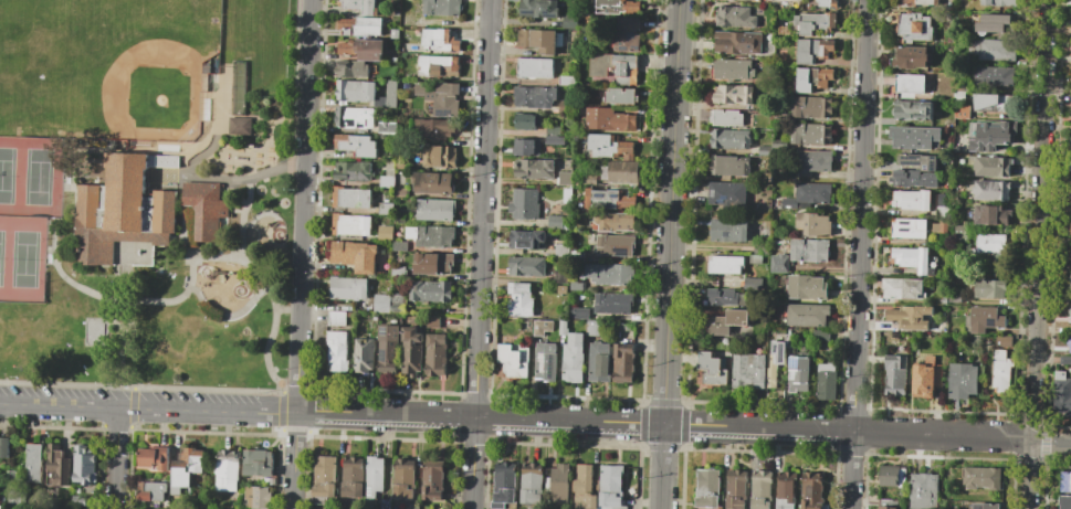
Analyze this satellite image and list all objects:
building: (917, 2)
building: (999, 2)
building: (829, 3)
building: (360, 6)
building: (619, 6)
building: (442, 8)
building: (539, 9)
building: (396, 13)
building: (736, 17)
building: (408, 20)
building: (763, 20)
building: (570, 21)
building: (815, 22)
building: (995, 22)
building: (914, 25)
building: (360, 26)
building: (417, 32)
building: (393, 33)
building: (627, 34)
building: (540, 39)
building: (439, 41)
building: (738, 43)
building: (361, 50)
building: (815, 50)
building: (996, 50)
building: (531, 52)
building: (911, 56)
building: (393, 59)
park: (104, 67)
building: (438, 67)
building: (536, 67)
building: (616, 67)
building: (734, 68)
building: (350, 70)
building: (994, 76)
building: (815, 78)
building: (566, 79)
road: (306, 82)
building: (1070, 82)
building: (910, 83)
building: (238, 87)
building: (364, 93)
building: (735, 94)
building: (439, 96)
building: (621, 96)
building: (535, 97)
building: (993, 103)
building: (564, 106)
building: (812, 107)
building: (913, 110)
building: (960, 110)
road: (249, 116)
building: (727, 117)
building: (781, 117)
building: (1069, 117)
building: (354, 118)
building: (610, 119)
building: (527, 121)
building: (238, 126)
building: (387, 128)
building: (438, 129)
building: (555, 130)
building: (812, 134)
building: (991, 135)
road: (265, 136)
building: (913, 136)
building: (405, 138)
building: (731, 138)
building: (555, 139)
building: (1070, 141)
building: (780, 144)
building: (357, 145)
building: (527, 147)
building: (610, 147)
building: (766, 150)
road: (272, 153)
building: (440, 156)
building: (918, 160)
building: (812, 161)
building: (402, 165)
building: (991, 165)
building: (729, 166)
building: (1068, 166)
building: (389, 167)
building: (533, 169)
building: (351, 171)
building: (623, 171)
road: (230, 178)
building: (565, 178)
building: (592, 178)
building: (913, 179)
building: (433, 182)
building: (578, 182)
building: (989, 189)
park: (145, 190)
building: (400, 192)
building: (727, 193)
building: (809, 194)
building: (568, 195)
building: (1070, 197)
building: (350, 198)
building: (609, 199)
building: (911, 200)
building: (525, 204)
building: (122, 208)
building: (202, 209)
building: (385, 209)
building: (435, 210)
building: (1067, 210)
building: (941, 211)
park: (25, 212)
building: (989, 214)
building: (555, 219)
building: (612, 222)
building: (813, 223)
building: (350, 224)
building: (938, 227)
building: (909, 229)
building: (728, 230)
building: (385, 232)
building: (431, 237)
building: (527, 238)
building: (990, 242)
building: (615, 245)
building: (399, 246)
building: (762, 248)
building: (561, 250)
building: (809, 251)
building: (1070, 253)
building: (354, 254)
road: (483, 254)
road: (670, 254)
road: (857, 254)
road: (1039, 254)
building: (755, 258)
building: (911, 259)
building: (432, 264)
building: (724, 264)
building: (527, 266)
building: (778, 267)
building: (398, 272)
building: (610, 273)
building: (559, 275)
road: (120, 283)
building: (1070, 283)
building: (576, 285)
building: (807, 286)
building: (988, 287)
road: (298, 288)
building: (347, 288)
building: (902, 289)
building: (430, 290)
building: (561, 290)
road: (269, 294)
building: (722, 296)
building: (953, 298)
building: (519, 299)
building: (937, 299)
road: (135, 301)
building: (613, 303)
building: (380, 304)
building: (395, 307)
road: (286, 309)
building: (1069, 311)
building: (578, 312)
building: (804, 315)
road: (227, 316)
building: (909, 317)
road: (111, 319)
road: (128, 319)
building: (983, 319)
building: (432, 321)
building: (726, 321)
building: (540, 327)
building: (561, 327)
building: (592, 328)
building: (612, 328)
building: (627, 328)
building: (361, 329)
building: (821, 335)
building: (976, 340)
building: (337, 341)
building: (724, 341)
building: (788, 341)
building: (1004, 341)
building: (1069, 342)
building: (387, 344)
building: (411, 350)
building: (364, 354)
building: (434, 354)
building: (573, 358)
building: (513, 360)
building: (1064, 360)
building: (545, 361)
building: (599, 361)
building: (622, 361)
building: (774, 361)
road: (118, 368)
building: (711, 369)
building: (748, 370)
building: (1000, 371)
building: (798, 374)
building: (894, 374)
building: (926, 378)
building: (962, 380)
building: (826, 381)
building: (1061, 393)
road: (147, 409)
road: (574, 422)
road: (897, 433)
road: (1008, 437)
building: (4, 447)
road: (116, 458)
building: (153, 458)
road: (294, 460)
building: (258, 462)
building: (34, 463)
building: (56, 466)
building: (84, 466)
building: (185, 469)
building: (228, 470)
building: (892, 476)
building: (354, 477)
building: (325, 478)
building: (376, 478)
building: (406, 478)
building: (980, 478)
building: (270, 480)
building: (1065, 481)
building: (433, 483)
building: (504, 483)
building: (531, 483)
building: (546, 485)
building: (559, 485)
building: (610, 485)
building: (785, 485)
building: (585, 488)
building: (707, 489)
building: (736, 489)
building: (760, 489)
building: (150, 490)
building: (811, 490)
building: (923, 490)
building: (258, 496)
building: (78, 500)
building: (1063, 502)
building: (985, 506)
building: (0, 507)
building: (416, 507)
building: (884, 507)
building: (494, 508)

